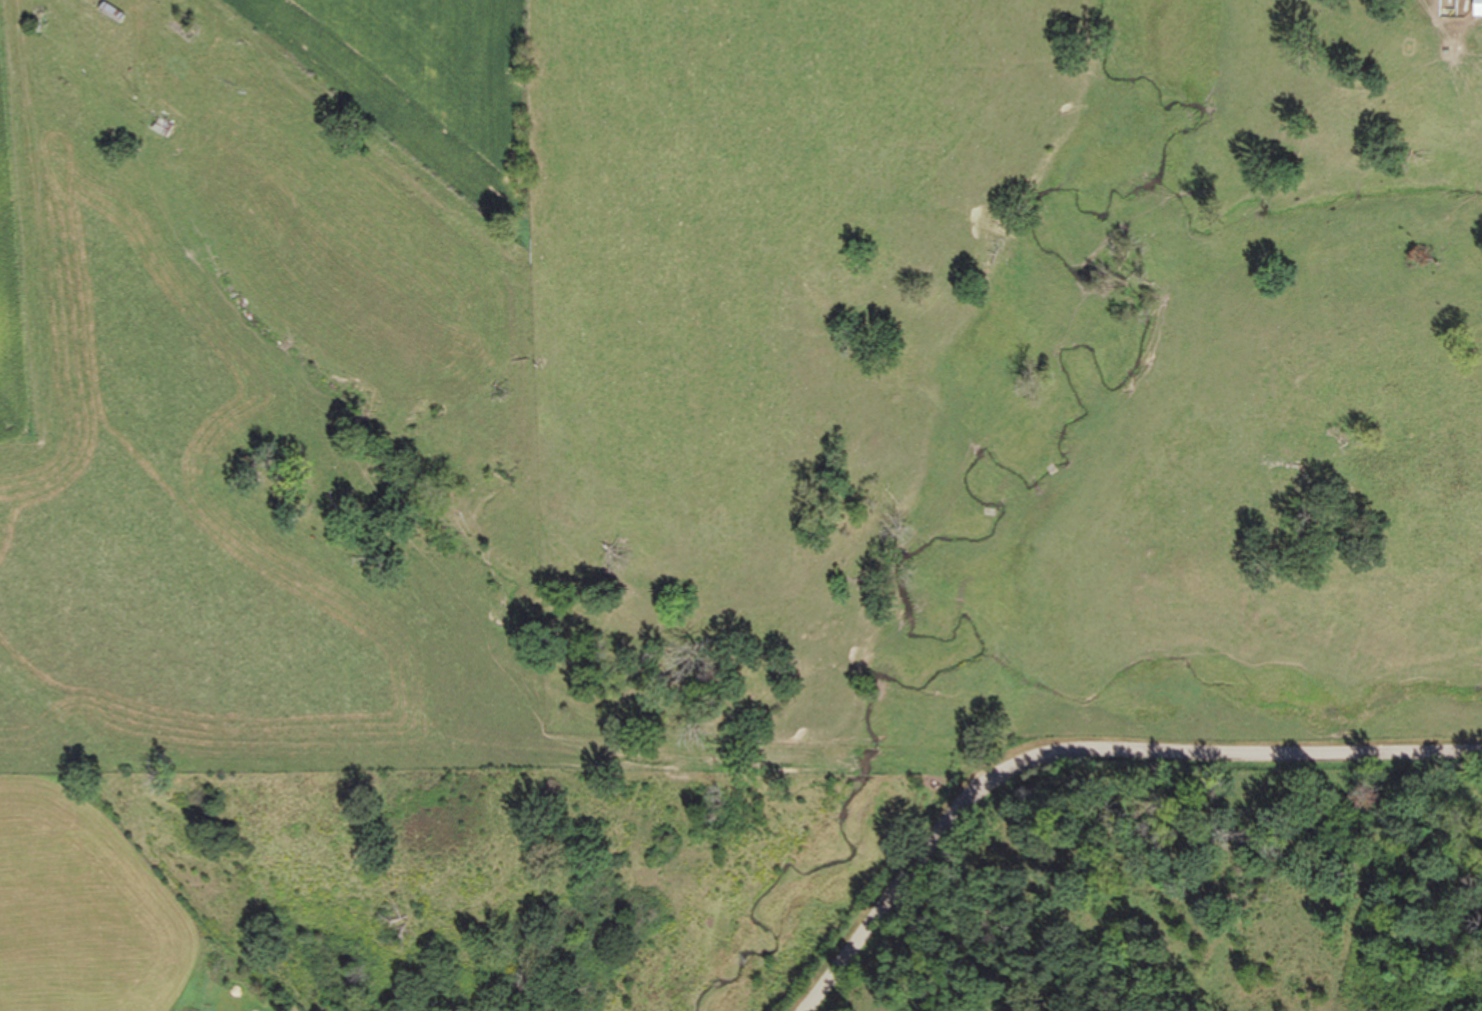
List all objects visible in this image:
building: (1477, 9)
road: (204, 29)
building: (160, 128)
road: (1082, 751)

